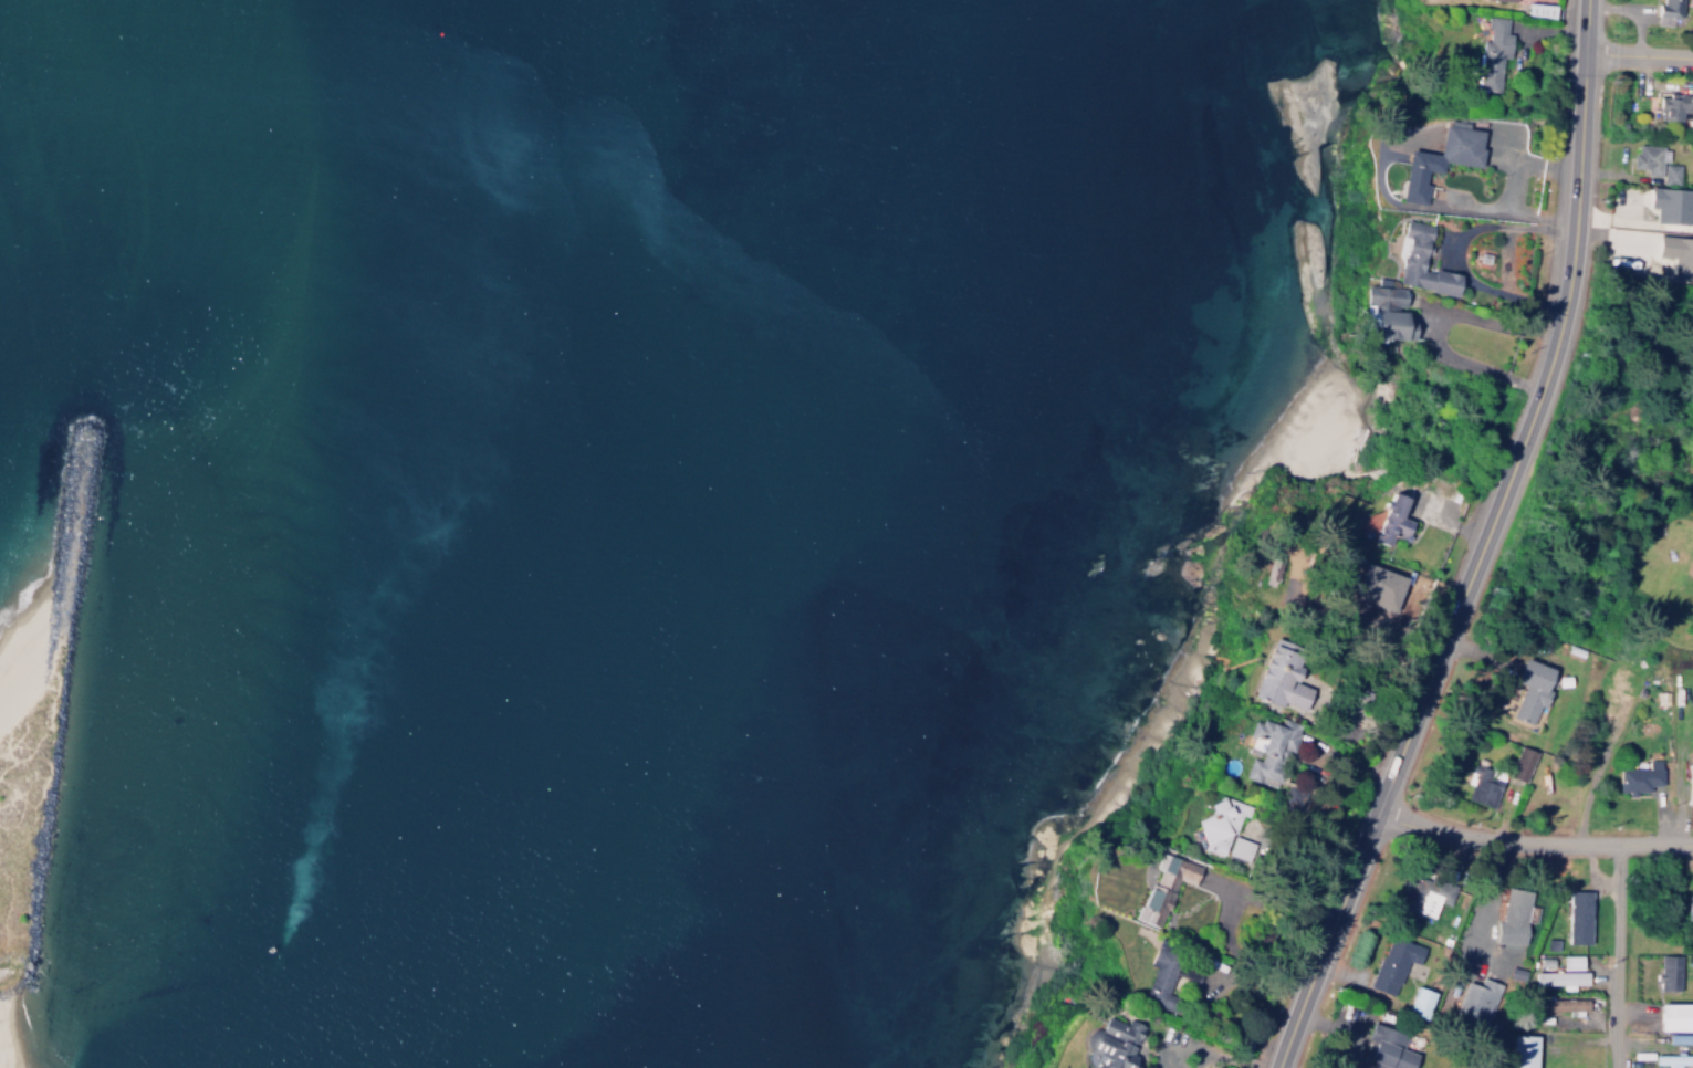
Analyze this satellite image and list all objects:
building: (1508, 0)
building: (1542, 6)
building: (1668, 8)
building: (1491, 49)
road: (1635, 50)
building: (1439, 154)
building: (1654, 163)
building: (1671, 205)
building: (1676, 256)
building: (1422, 258)
building: (1387, 307)
building: (1391, 513)
road: (1480, 546)
building: (1382, 586)
building: (1282, 677)
building: (1529, 687)
building: (1611, 701)
building: (1267, 750)
building: (1520, 763)
building: (1691, 772)
building: (1635, 774)
road: (1591, 782)
building: (1481, 785)
building: (1223, 830)
road: (1533, 837)
building: (1164, 886)
building: (1423, 896)
road: (1485, 898)
building: (1689, 900)
building: (1572, 904)
building: (1512, 912)
building: (1550, 939)
road: (1620, 954)
building: (1392, 959)
building: (1569, 962)
building: (1668, 967)
building: (1559, 973)
building: (1160, 976)
building: (1419, 996)
building: (1561, 1001)
building: (1472, 1006)
building: (1674, 1012)
building: (1678, 1038)
building: (1114, 1040)
building: (1387, 1046)
building: (1522, 1048)
building: (1672, 1054)
building: (1569, 1066)

